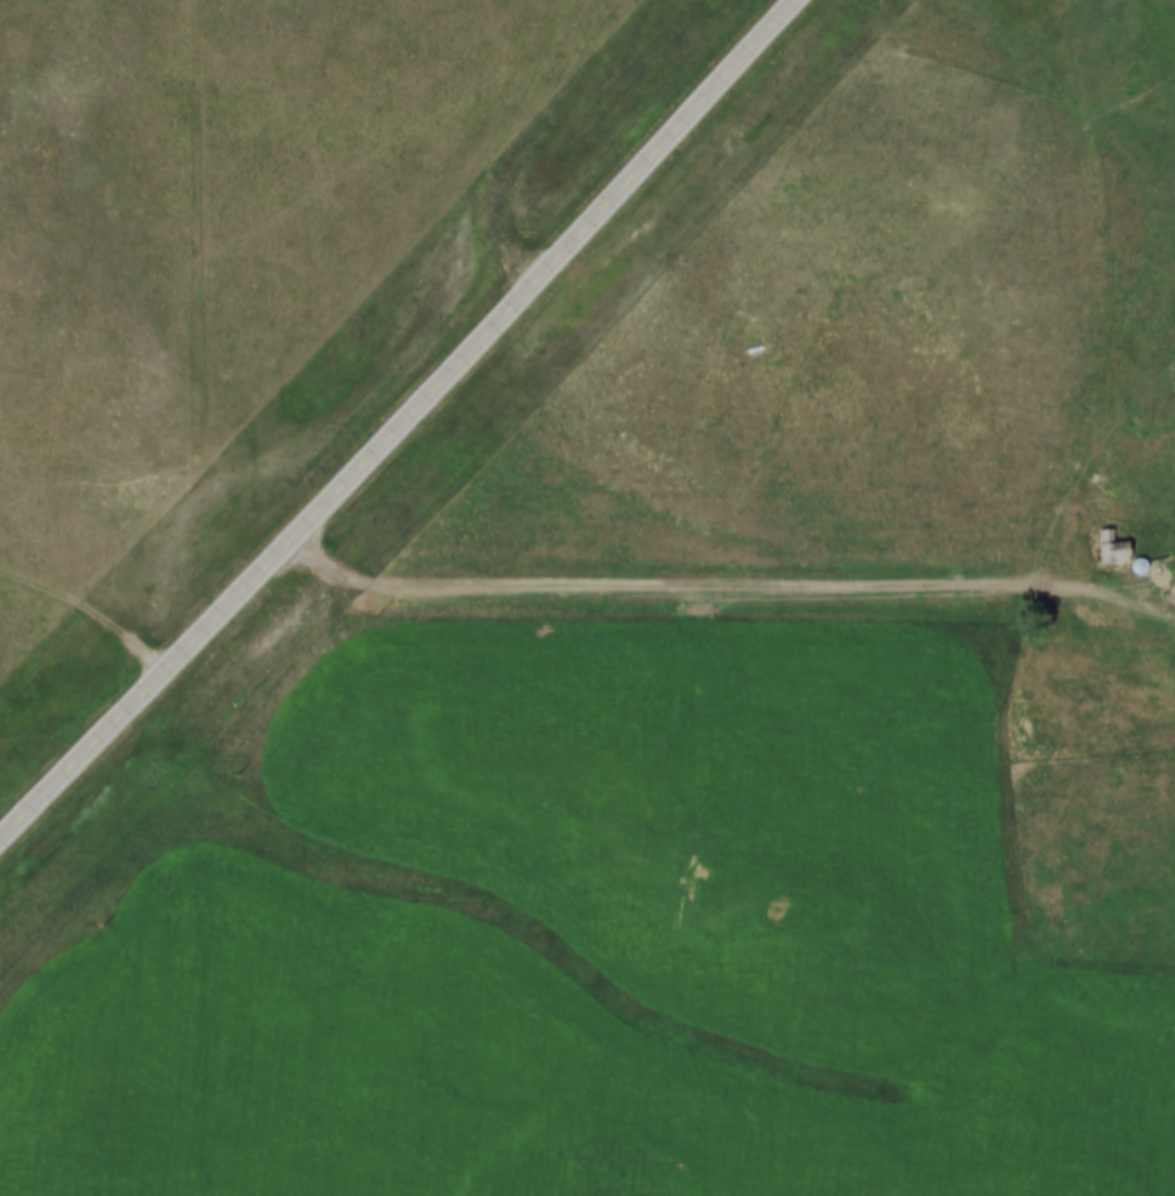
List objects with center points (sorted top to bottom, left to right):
road: (401, 425)
building: (1103, 548)

